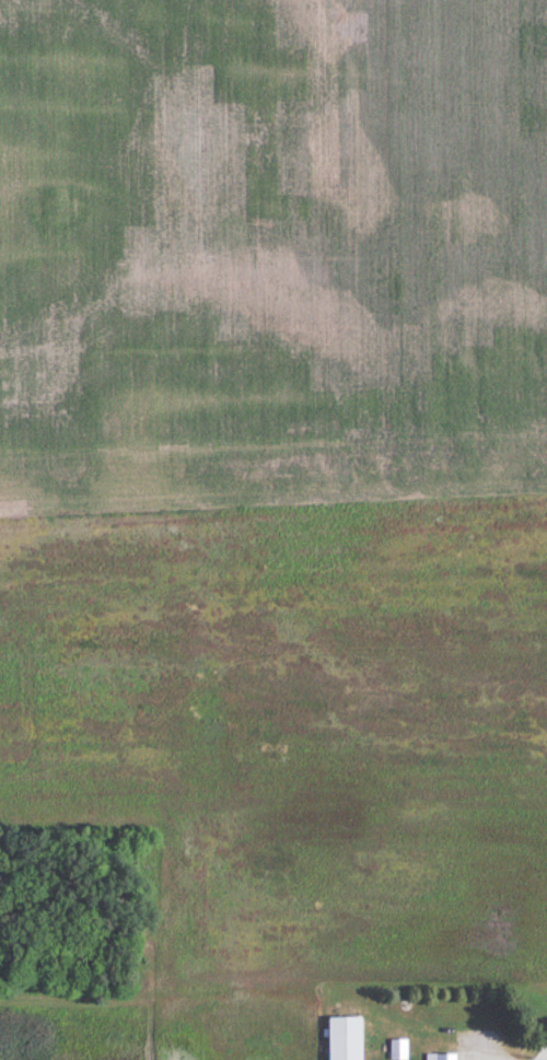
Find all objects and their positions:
building: (342, 1038)
building: (441, 1057)

